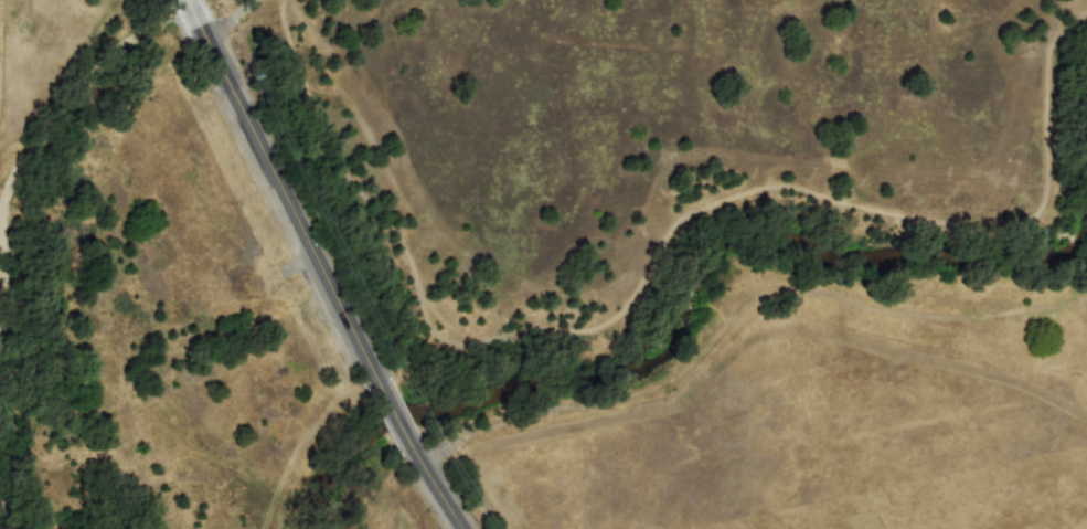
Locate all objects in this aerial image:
road: (226, 21)
crop: (566, 264)
road: (318, 265)

